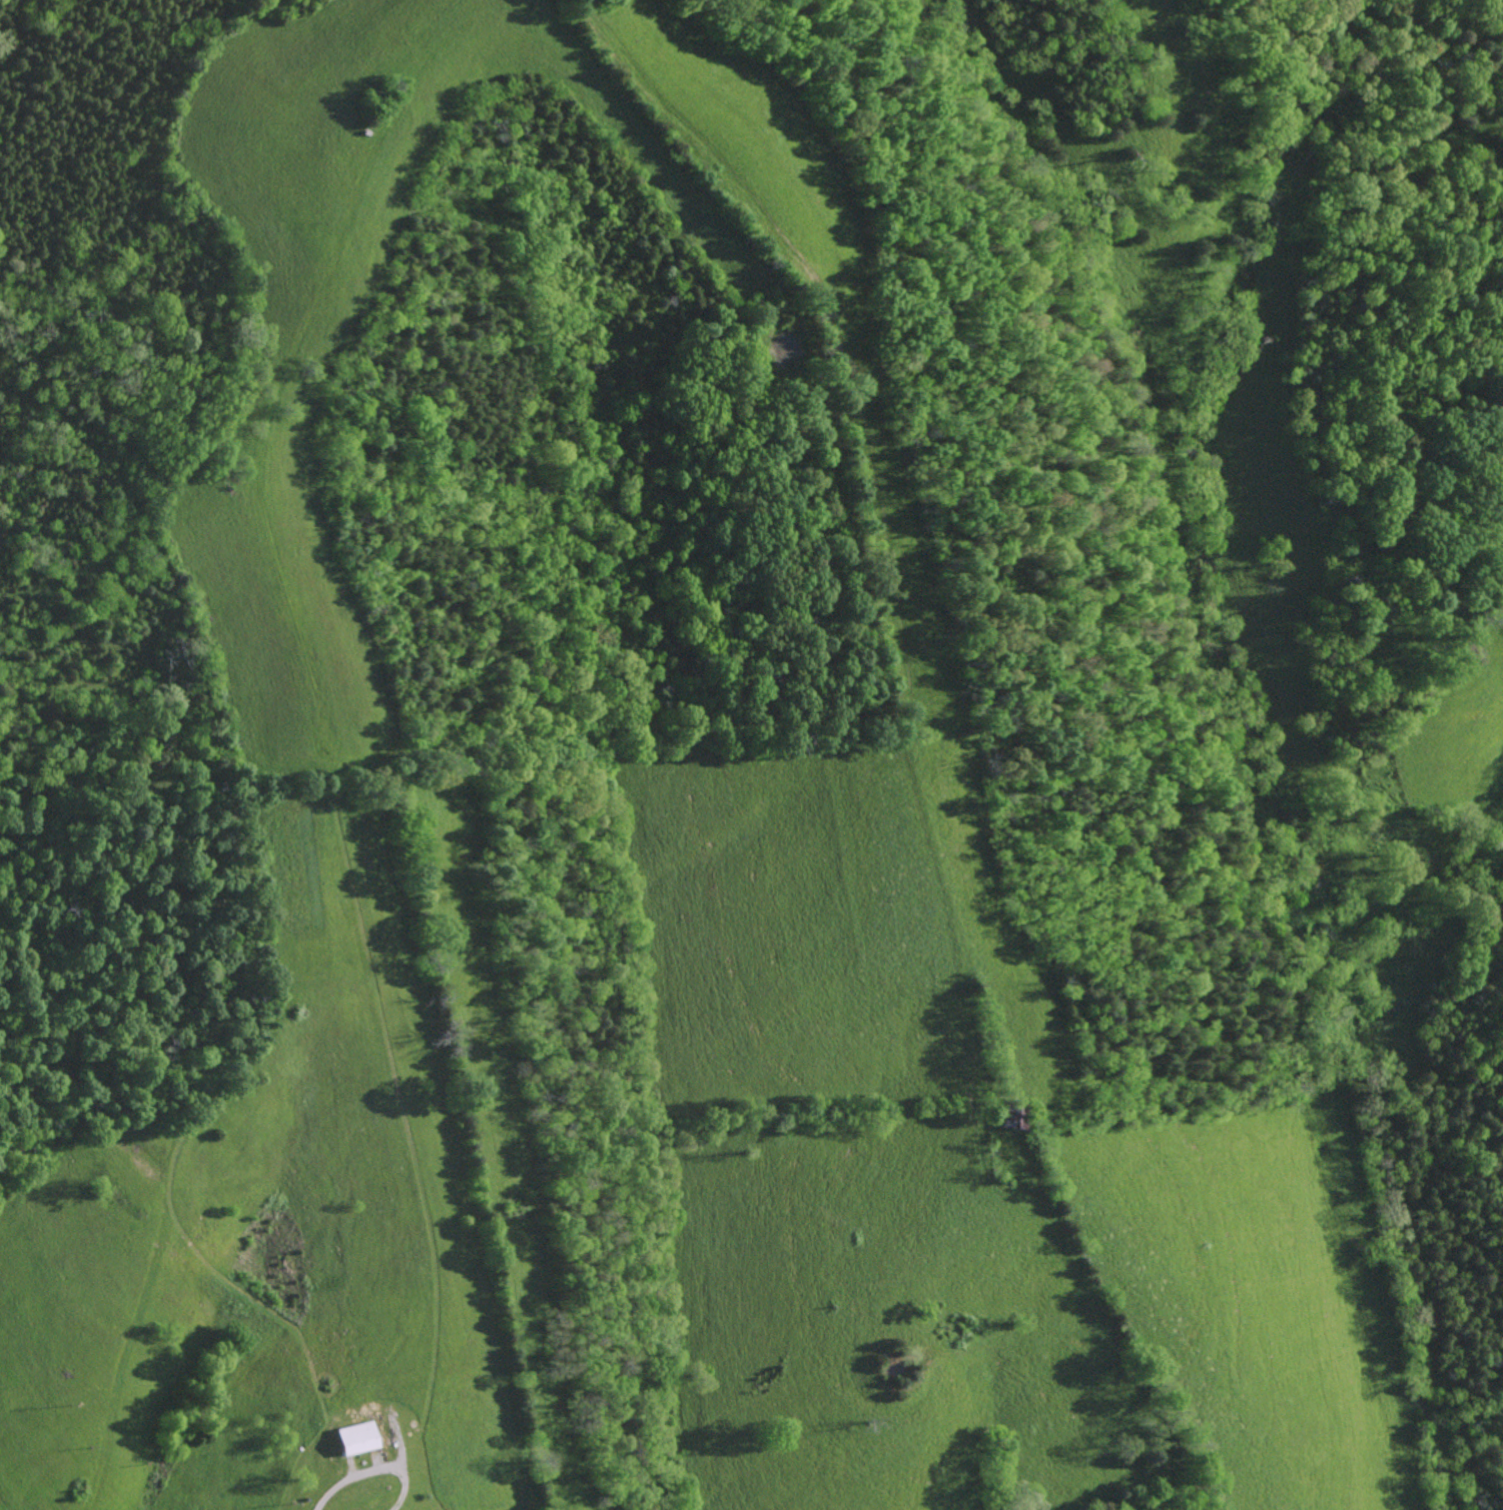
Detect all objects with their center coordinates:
building: (359, 1438)

